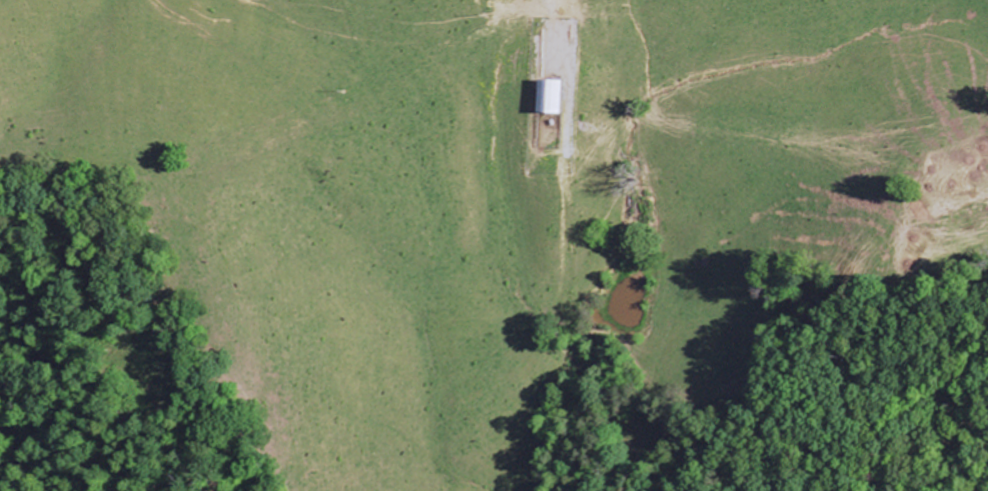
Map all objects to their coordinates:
building: (546, 98)
road: (583, 137)

